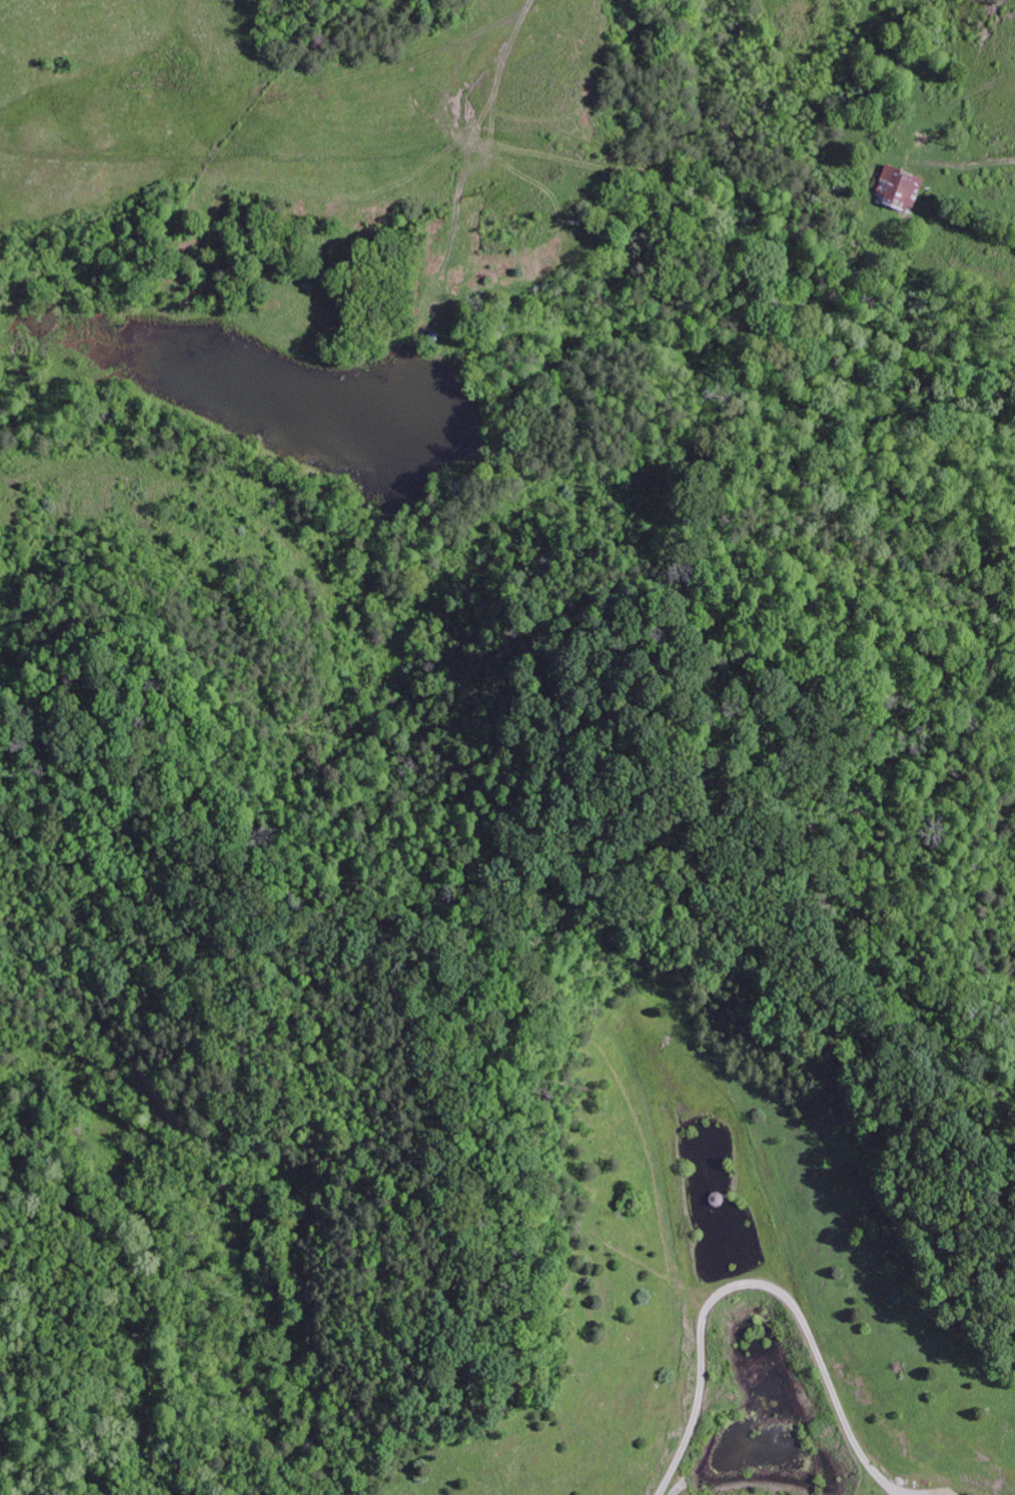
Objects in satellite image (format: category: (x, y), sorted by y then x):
building: (896, 188)

